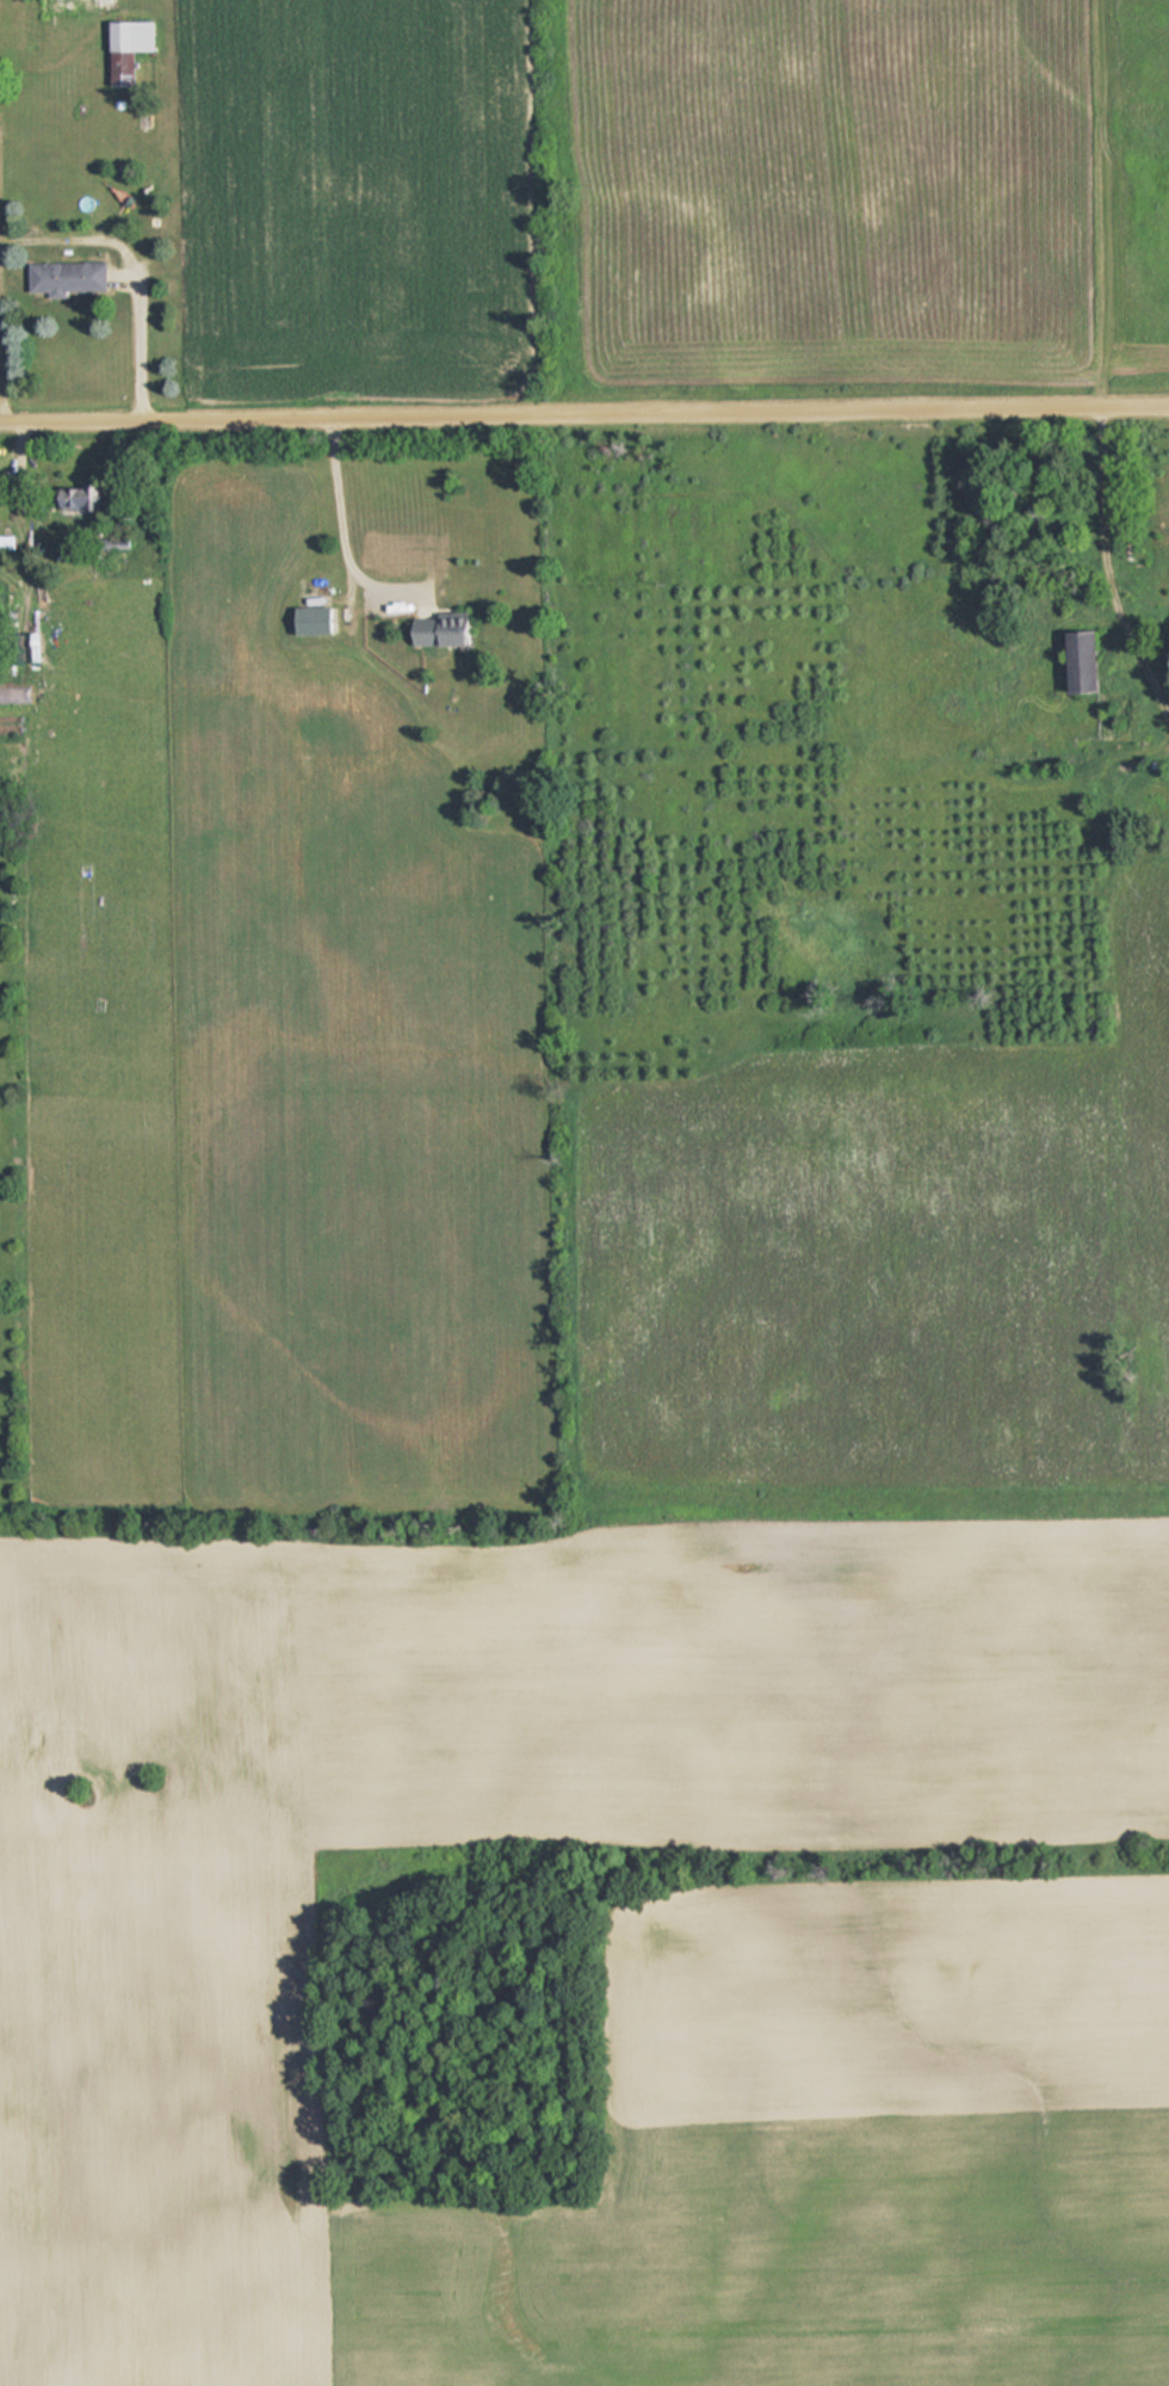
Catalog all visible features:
building: (134, 48)
building: (72, 276)
road: (583, 421)
building: (88, 497)
building: (322, 619)
building: (450, 629)
building: (1074, 661)

